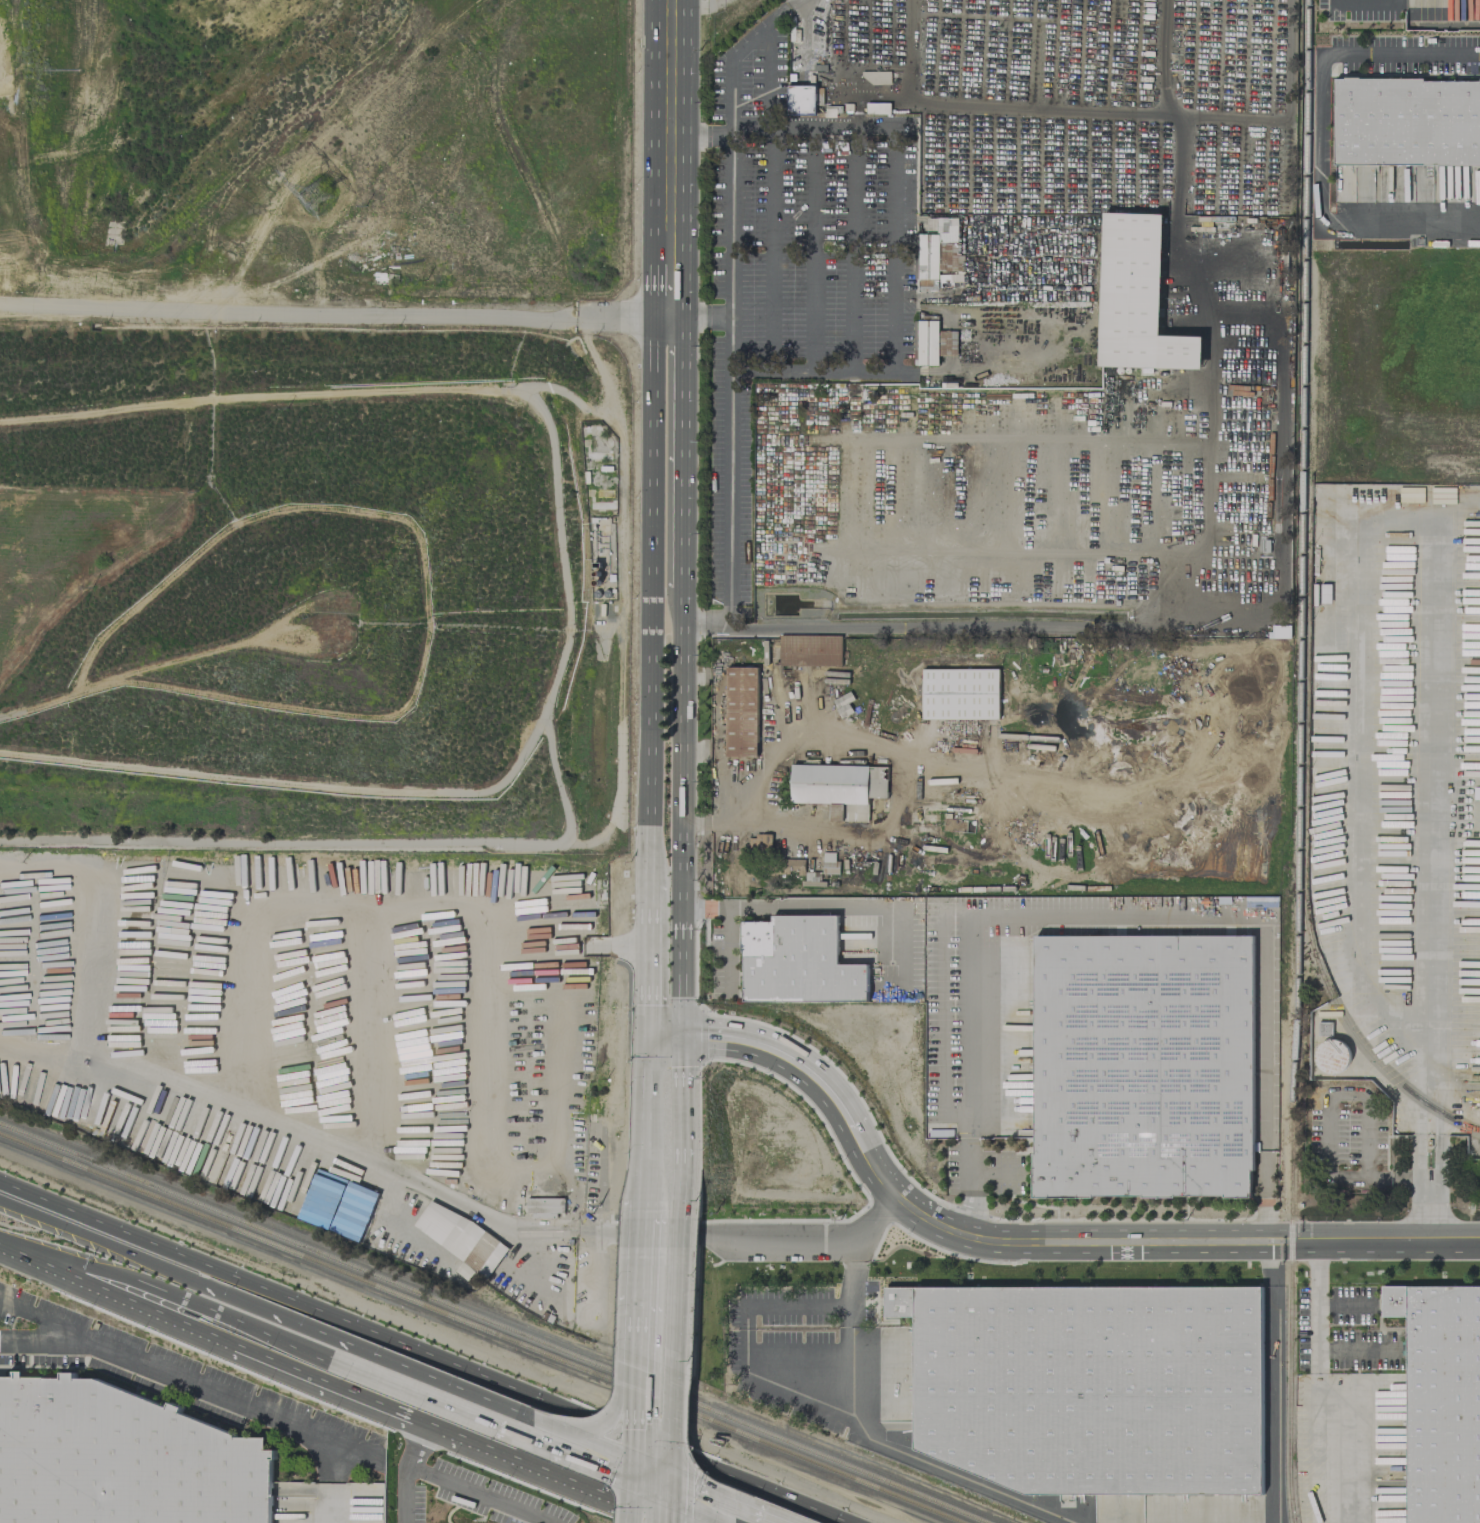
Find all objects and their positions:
road: (742, 51)
road: (1164, 58)
building: (801, 99)
road: (992, 105)
road: (1230, 116)
building: (1406, 121)
road: (655, 133)
road: (669, 138)
road: (1318, 139)
road: (683, 158)
power tower: (316, 198)
road: (894, 220)
building: (933, 250)
road: (655, 292)
building: (1136, 297)
road: (327, 308)
road: (669, 317)
building: (931, 342)
road: (894, 347)
landfill: (319, 424)
road: (682, 454)
road: (729, 491)
road: (653, 599)
road: (1281, 624)
building: (809, 650)
building: (960, 693)
building: (741, 711)
railway: (1299, 761)
road: (681, 811)
road: (1435, 858)
building: (829, 863)
road: (730, 908)
road: (856, 908)
road: (1120, 915)
road: (726, 952)
road: (651, 957)
building: (797, 961)
railway: (1347, 1025)
traffic signals: (651, 1032)
road: (666, 1032)
road: (650, 1054)
building: (1143, 1065)
road: (648, 1105)
building: (1469, 1112)
road: (679, 1135)
road: (1436, 1174)
road: (646, 1184)
building: (544, 1206)
road: (518, 1227)
road: (1040, 1230)
road: (812, 1235)
building: (460, 1239)
railway: (308, 1248)
road: (644, 1257)
railway: (307, 1258)
road: (160, 1267)
road: (676, 1279)
road: (167, 1289)
road: (642, 1314)
road: (215, 1331)
road: (2, 1342)
road: (49, 1343)
road: (404, 1346)
road: (675, 1348)
road: (641, 1352)
road: (849, 1353)
road: (417, 1372)
road: (1272, 1379)
road: (188, 1380)
building: (1092, 1387)
road: (813, 1388)
road: (1326, 1390)
road: (410, 1391)
road: (626, 1394)
building: (1440, 1399)
road: (639, 1401)
road: (554, 1417)
road: (673, 1417)
road: (574, 1435)
railway: (802, 1447)
railway: (789, 1452)
road: (564, 1454)
road: (637, 1454)
building: (122, 1461)
road: (330, 1461)
traffic signals: (637, 1461)
road: (672, 1466)
road: (405, 1467)
road: (654, 1467)
road: (558, 1471)
road: (637, 1472)
traffic signals: (672, 1474)
traffic signals: (637, 1484)
road: (672, 1485)
building: (980, 1486)
road: (637, 1487)
road: (654, 1490)
road: (478, 1494)
traffic signals: (672, 1497)
road: (732, 1499)
road: (671, 1500)
road: (329, 1504)
road: (636, 1507)
road: (704, 1510)
road: (670, 1513)
road: (826, 1516)

